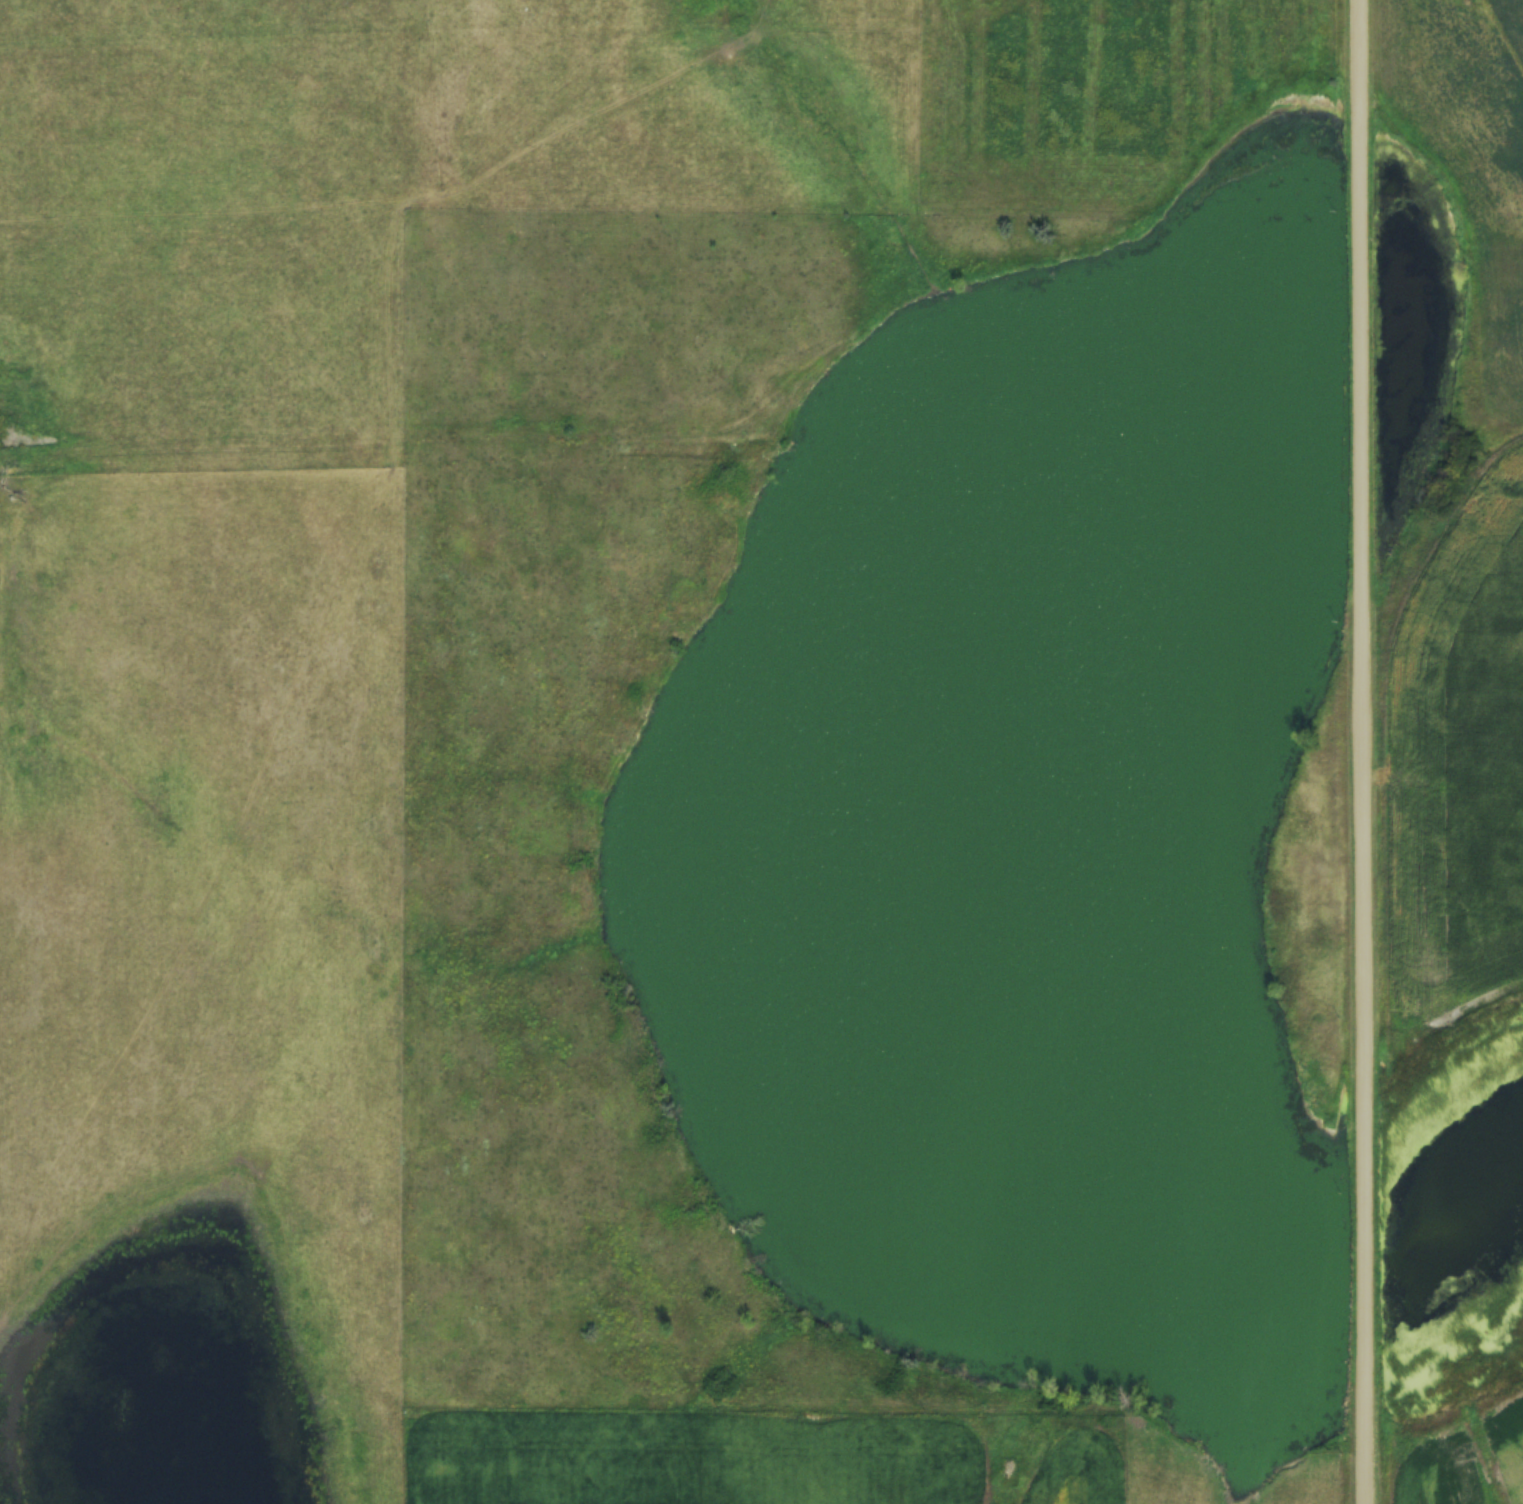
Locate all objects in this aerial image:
road: (1365, 752)

